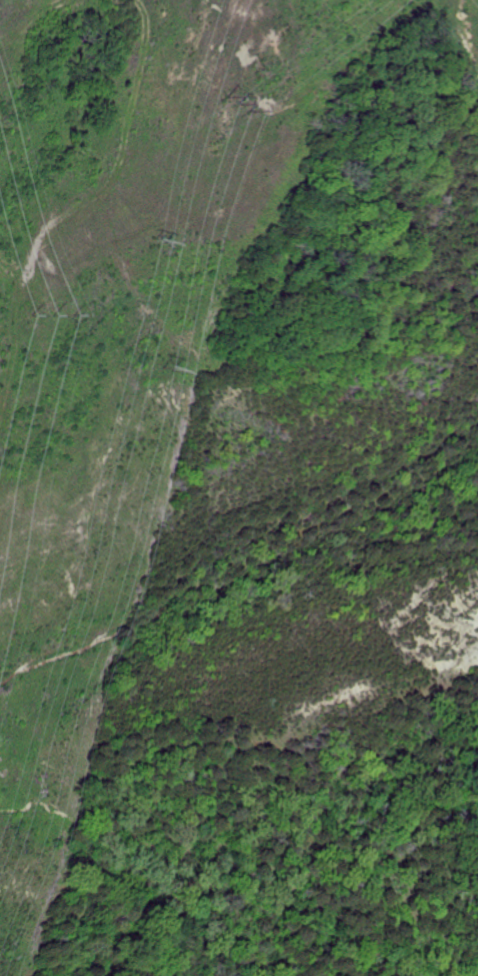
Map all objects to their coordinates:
power tower: (232, 102)
power tower: (147, 239)
power tower: (28, 311)
power tower: (158, 367)

